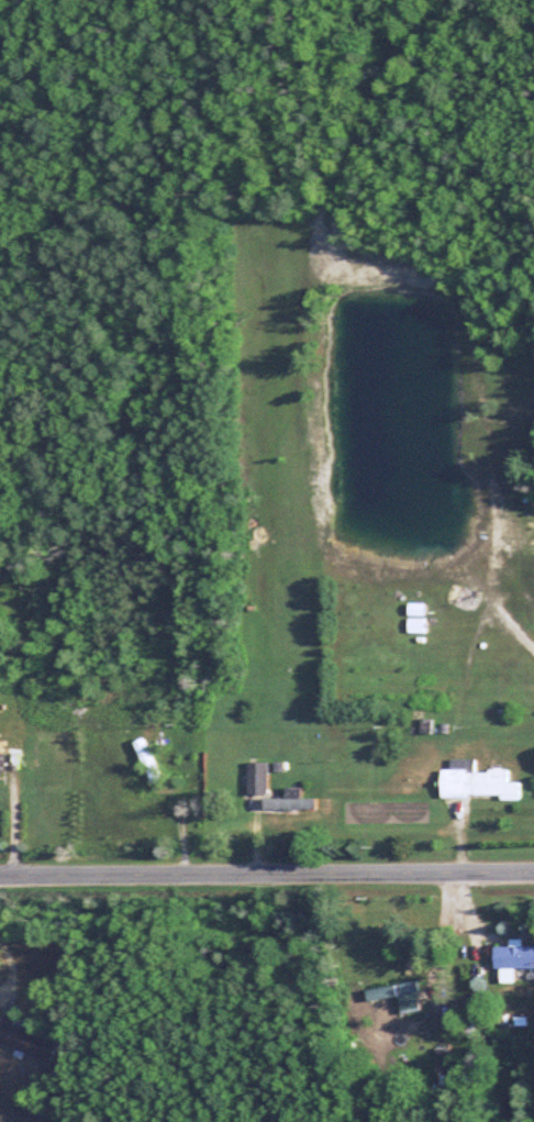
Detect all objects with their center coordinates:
building: (415, 619)
building: (145, 759)
building: (255, 777)
building: (472, 781)
building: (288, 801)
road: (267, 873)
building: (512, 957)
road: (12, 964)
building: (397, 996)
building: (19, 1040)

